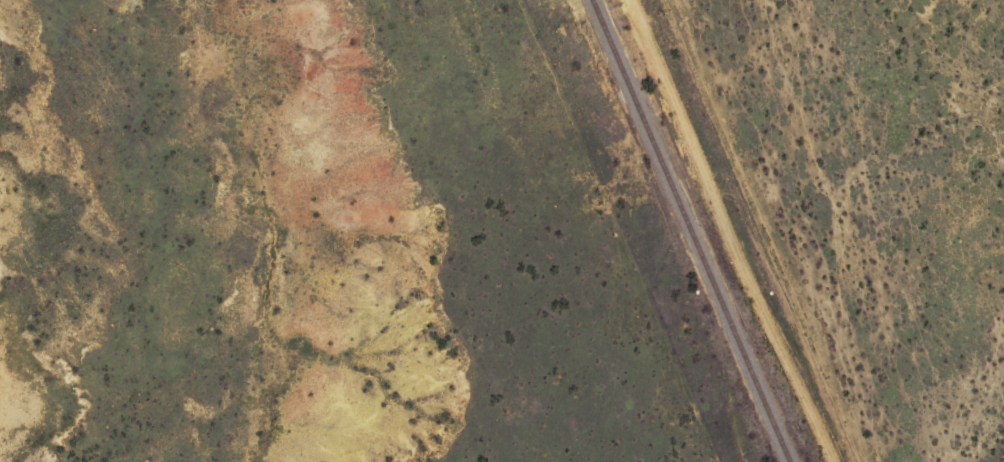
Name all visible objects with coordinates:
railway: (686, 230)

